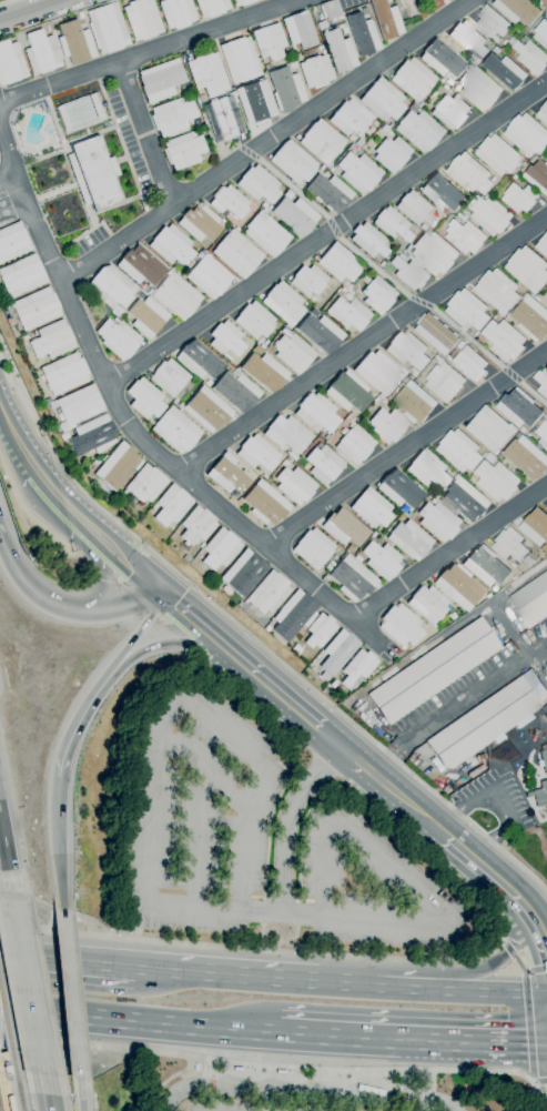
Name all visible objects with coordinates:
road: (4, 1)
building: (545, 1)
building: (242, 2)
building: (211, 7)
building: (330, 9)
road: (30, 10)
building: (518, 10)
building: (176, 12)
building: (546, 12)
building: (80, 14)
building: (142, 19)
building: (385, 19)
building: (333, 20)
building: (493, 22)
building: (321, 24)
building: (340, 26)
building: (47, 28)
building: (107, 28)
building: (298, 30)
building: (344, 30)
building: (541, 33)
building: (362, 34)
building: (468, 38)
building: (269, 41)
building: (74, 42)
building: (318, 48)
road: (149, 50)
building: (338, 51)
building: (41, 52)
building: (531, 57)
building: (440, 59)
building: (239, 60)
building: (476, 60)
building: (10, 62)
building: (292, 64)
building: (506, 70)
building: (315, 71)
building: (207, 74)
building: (413, 79)
building: (160, 80)
building: (439, 81)
building: (448, 82)
building: (444, 87)
building: (479, 87)
building: (184, 89)
building: (285, 89)
building: (382, 100)
building: (255, 101)
building: (97, 105)
park: (80, 111)
building: (450, 111)
building: (543, 113)
building: (172, 117)
building: (62, 118)
building: (223, 118)
building: (350, 118)
building: (196, 122)
building: (389, 125)
building: (385, 129)
building: (418, 129)
road: (145, 133)
building: (527, 133)
building: (321, 140)
road: (265, 141)
building: (358, 143)
building: (351, 147)
building: (183, 151)
road: (8, 153)
building: (391, 153)
building: (498, 154)
road: (253, 155)
building: (543, 155)
building: (293, 163)
building: (524, 163)
building: (517, 169)
building: (358, 172)
building: (93, 173)
building: (469, 173)
building: (538, 175)
building: (514, 176)
road: (8, 178)
building: (494, 179)
building: (259, 184)
road: (294, 189)
building: (330, 192)
building: (442, 192)
building: (287, 194)
building: (520, 196)
building: (229, 202)
road: (12, 204)
building: (263, 205)
building: (269, 208)
building: (415, 209)
building: (295, 215)
building: (490, 215)
building: (463, 216)
building: (200, 224)
building: (392, 224)
road: (334, 228)
building: (423, 228)
road: (326, 232)
building: (266, 234)
building: (465, 236)
building: (368, 240)
building: (13, 242)
building: (541, 244)
building: (171, 245)
building: (434, 252)
building: (237, 253)
building: (340, 264)
building: (141, 266)
road: (375, 267)
building: (385, 267)
building: (528, 269)
building: (409, 271)
building: (21, 275)
building: (209, 275)
building: (308, 281)
building: (110, 289)
building: (343, 290)
building: (498, 290)
building: (350, 292)
building: (377, 294)
building: (533, 294)
building: (176, 295)
building: (538, 297)
road: (421, 302)
building: (546, 302)
building: (284, 303)
building: (36, 309)
building: (467, 310)
building: (314, 313)
building: (348, 313)
building: (146, 316)
building: (531, 317)
building: (115, 320)
building: (254, 320)
building: (321, 333)
building: (436, 333)
building: (477, 333)
building: (24, 337)
road: (468, 337)
building: (118, 339)
building: (504, 339)
building: (51, 340)
building: (226, 340)
building: (265, 342)
road: (362, 344)
building: (460, 344)
building: (262, 346)
building: (407, 350)
building: (293, 352)
building: (449, 357)
building: (199, 360)
building: (470, 363)
building: (230, 367)
building: (413, 371)
building: (264, 372)
building: (378, 372)
building: (64, 374)
road: (511, 374)
building: (41, 377)
building: (169, 377)
building: (445, 381)
building: (541, 381)
building: (207, 383)
building: (236, 392)
building: (348, 392)
road: (534, 393)
building: (145, 400)
building: (174, 401)
building: (47, 402)
building: (415, 402)
building: (79, 405)
building: (180, 405)
building: (519, 407)
building: (206, 410)
building: (316, 413)
building: (546, 415)
building: (350, 418)
building: (387, 425)
building: (490, 428)
building: (175, 430)
building: (524, 430)
building: (287, 434)
building: (520, 434)
building: (543, 434)
building: (63, 436)
building: (92, 436)
road: (17, 442)
building: (354, 444)
road: (151, 447)
road: (405, 448)
building: (459, 450)
building: (257, 453)
building: (293, 456)
building: (527, 456)
building: (97, 461)
building: (284, 463)
building: (323, 464)
building: (117, 467)
building: (429, 469)
building: (229, 474)
building: (496, 478)
building: (145, 484)
building: (295, 485)
building: (399, 491)
building: (425, 491)
building: (122, 499)
building: (466, 499)
building: (265, 503)
building: (171, 505)
building: (546, 505)
building: (372, 508)
building: (438, 522)
building: (536, 525)
building: (196, 526)
building: (344, 527)
building: (373, 534)
building: (378, 534)
building: (409, 539)
road: (98, 541)
building: (509, 544)
building: (201, 545)
building: (220, 548)
building: (313, 548)
road: (448, 552)
road: (94, 557)
building: (357, 558)
building: (528, 559)
building: (382, 560)
building: (331, 563)
building: (514, 565)
building: (486, 566)
building: (328, 567)
building: (243, 573)
building: (515, 577)
building: (353, 578)
road: (19, 579)
building: (217, 584)
building: (458, 587)
building: (494, 588)
building: (269, 593)
building: (487, 596)
traffic signals: (164, 597)
building: (531, 600)
building: (428, 604)
road: (108, 610)
building: (293, 615)
building: (401, 625)
building: (267, 626)
building: (320, 630)
road: (140, 633)
road: (250, 636)
road: (215, 639)
road: (193, 644)
building: (296, 649)
building: (337, 652)
building: (358, 667)
building: (434, 671)
building: (546, 678)
building: (334, 684)
road: (446, 709)
road: (200, 713)
building: (483, 724)
road: (77, 725)
building: (544, 759)
road: (201, 769)
road: (369, 770)
building: (539, 795)
road: (495, 805)
flagpole: (483, 819)
road: (286, 820)
road: (197, 839)
parking lot: (261, 840)
road: (58, 850)
road: (4, 868)
road: (517, 899)
road: (23, 918)
road: (408, 923)
road: (502, 941)
road: (269, 949)
road: (509, 951)
road: (69, 964)
road: (488, 966)
road: (521, 968)
road: (537, 968)
road: (526, 969)
road: (26, 983)
road: (281, 983)
road: (70, 992)
road: (486, 993)
road: (85, 1013)
railway: (8, 1029)
road: (226, 1029)
road: (529, 1029)
road: (414, 1041)
road: (34, 1056)
road: (4, 1063)
road: (6, 1065)
building: (196, 1067)
road: (282, 1068)
building: (237, 1069)
building: (281, 1071)
building: (7, 1073)
road: (165, 1080)
road: (541, 1080)
road: (534, 1081)
railway: (9, 1082)
road: (211, 1084)
road: (186, 1087)
road: (244, 1089)
railway: (19, 1090)
road: (47, 1092)
road: (80, 1093)
road: (362, 1095)
railway: (1, 1101)
building: (10, 1103)
parking lot: (255, 1107)
road: (281, 1107)

